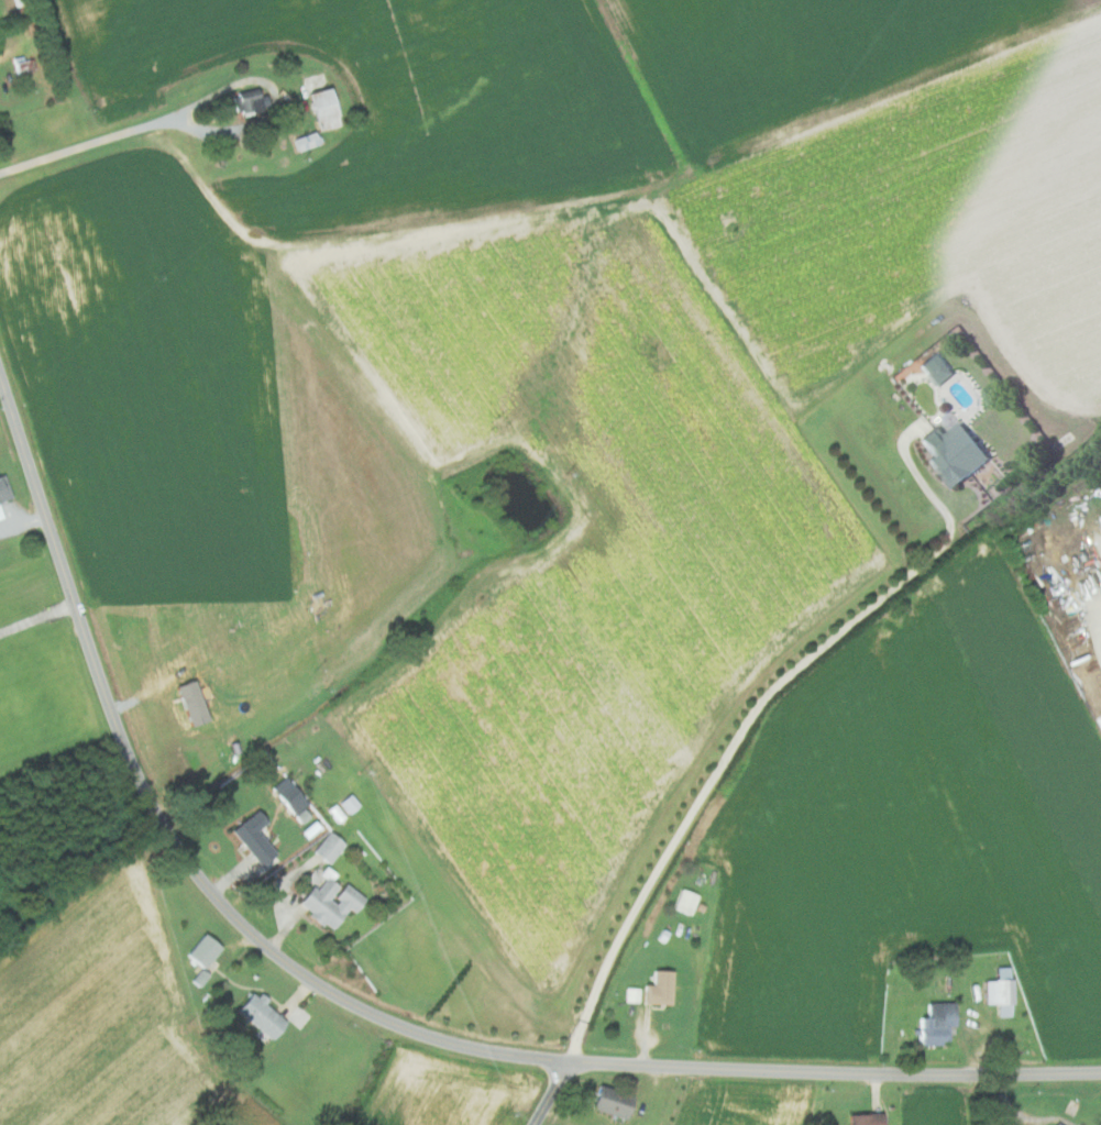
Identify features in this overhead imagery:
road: (276, 95)
building: (321, 109)
building: (304, 141)
road: (81, 145)
building: (936, 367)
building: (953, 452)
building: (1100, 527)
road: (36, 617)
road: (719, 769)
building: (290, 798)
building: (252, 836)
building: (327, 847)
building: (328, 898)
building: (684, 901)
building: (201, 950)
building: (658, 988)
building: (999, 991)
building: (631, 994)
road: (359, 1010)
building: (260, 1014)
building: (936, 1022)
road: (549, 1098)
building: (610, 1102)
road: (1024, 1115)
building: (863, 1118)
building: (1006, 1123)
building: (1056, 1124)

